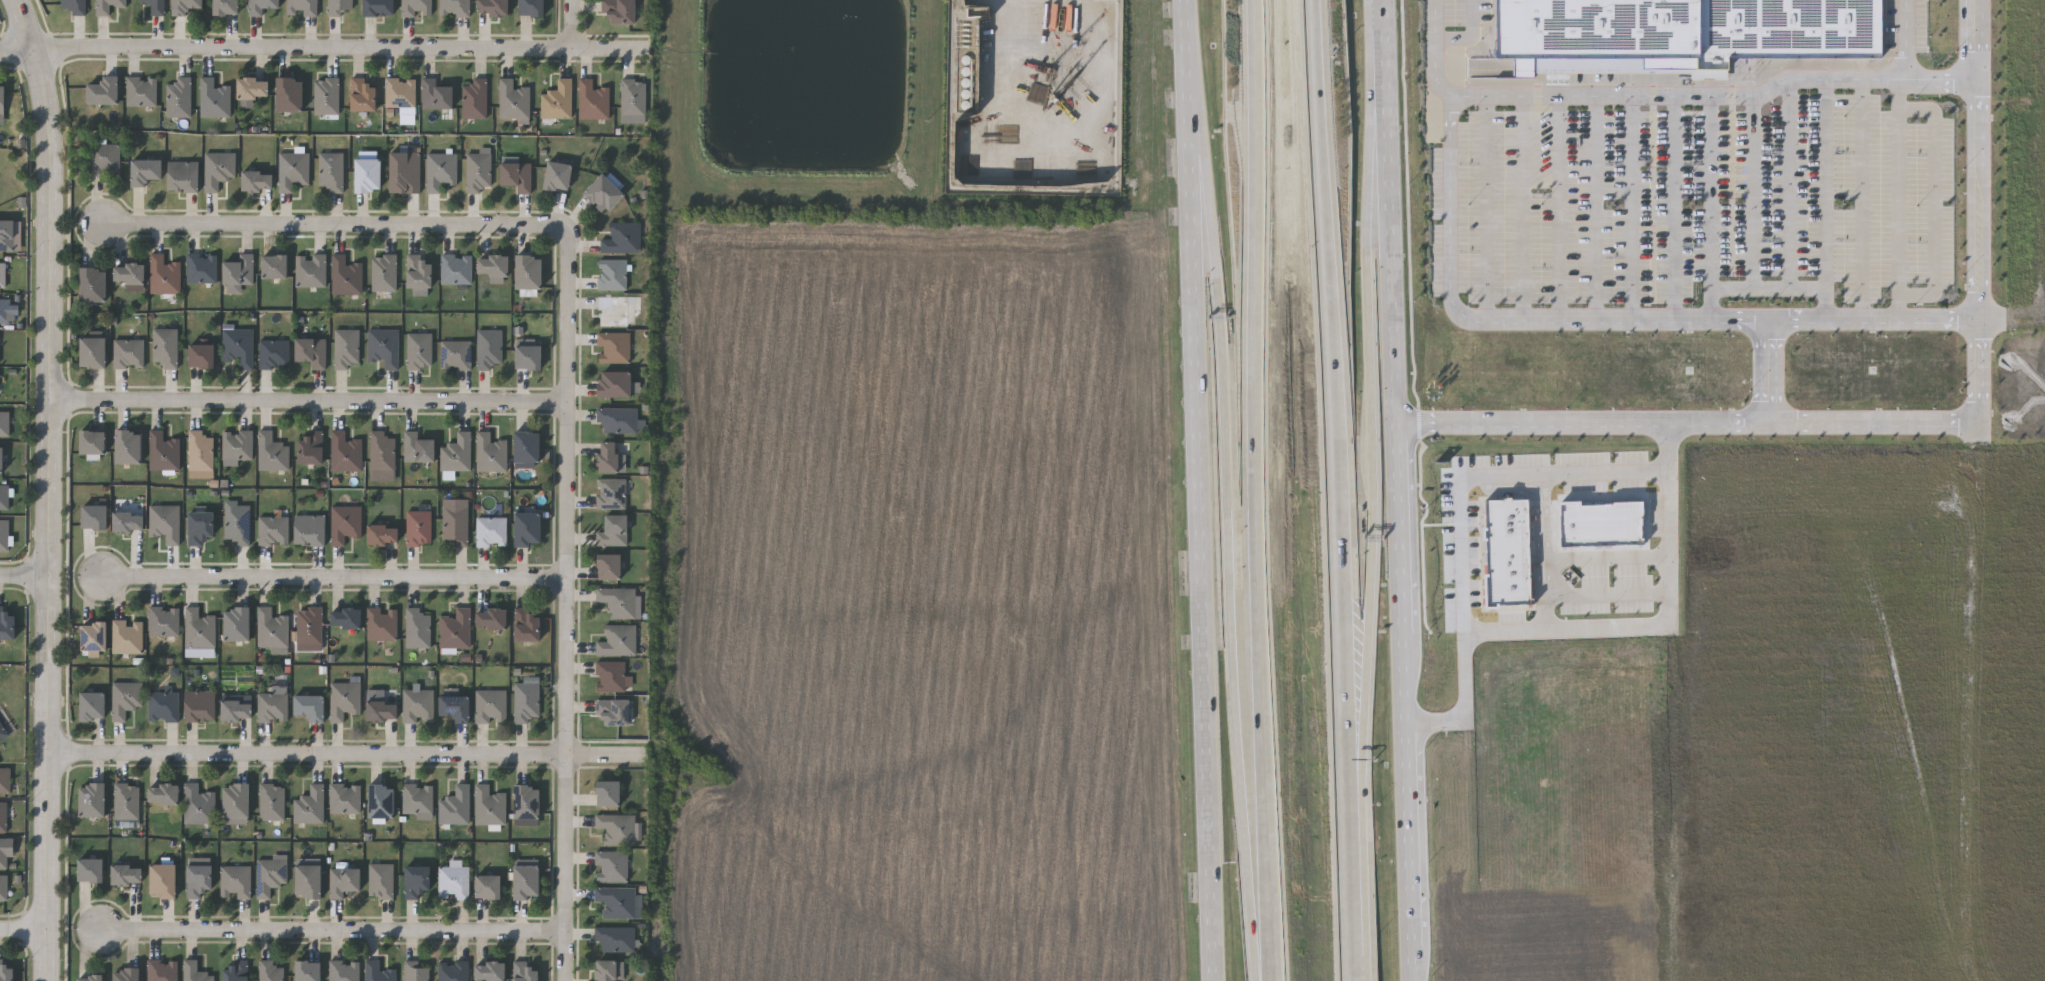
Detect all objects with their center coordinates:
building: (106, 5)
building: (73, 6)
building: (155, 6)
building: (188, 6)
building: (262, 6)
building: (227, 7)
building: (301, 7)
building: (339, 7)
building: (379, 7)
building: (416, 7)
building: (454, 7)
building: (494, 7)
building: (532, 7)
building: (619, 10)
road: (570, 23)
building: (1677, 31)
road: (1471, 34)
road: (318, 48)
road: (1911, 74)
building: (254, 88)
building: (104, 91)
building: (142, 91)
building: (400, 92)
building: (291, 94)
building: (363, 95)
building: (436, 95)
building: (326, 96)
building: (179, 97)
building: (633, 97)
road: (1685, 97)
building: (215, 99)
building: (474, 99)
building: (513, 100)
building: (557, 100)
building: (592, 100)
building: (2, 104)
building: (104, 160)
building: (218, 168)
building: (292, 169)
building: (330, 170)
building: (439, 170)
building: (145, 171)
building: (404, 172)
building: (478, 172)
building: (368, 175)
building: (183, 176)
building: (517, 176)
building: (559, 176)
building: (257, 180)
road: (1790, 183)
road: (1754, 192)
building: (605, 193)
road: (1826, 199)
road: (1863, 199)
road: (1898, 199)
road: (1934, 200)
road: (1679, 208)
road: (1710, 208)
road: (1487, 209)
road: (1522, 209)
road: (1560, 209)
road: (1596, 209)
road: (1631, 209)
road: (330, 225)
building: (8, 235)
building: (621, 238)
road: (1325, 257)
building: (275, 266)
building: (493, 266)
building: (202, 267)
building: (456, 268)
building: (239, 270)
building: (311, 270)
building: (419, 271)
building: (384, 272)
building: (530, 272)
building: (130, 273)
building: (611, 273)
building: (2, 274)
building: (164, 275)
building: (345, 275)
building: (94, 284)
road: (1768, 287)
building: (636, 304)
road: (1456, 308)
building: (9, 310)
building: (616, 310)
road: (1876, 319)
building: (202, 327)
building: (237, 345)
building: (164, 346)
building: (383, 346)
building: (613, 346)
building: (346, 348)
building: (488, 348)
building: (418, 350)
building: (93, 351)
building: (311, 351)
building: (128, 353)
building: (273, 353)
building: (201, 354)
building: (455, 354)
building: (529, 356)
road: (1769, 372)
building: (615, 382)
road: (307, 400)
building: (617, 419)
building: (4, 422)
road: (1901, 422)
building: (93, 440)
building: (237, 444)
building: (128, 445)
building: (311, 447)
building: (418, 447)
building: (527, 447)
building: (199, 450)
building: (163, 451)
building: (271, 451)
building: (381, 451)
building: (345, 452)
building: (456, 452)
building: (489, 452)
road: (1255, 452)
road: (1374, 452)
building: (608, 455)
building: (1, 458)
road: (1486, 477)
road: (51, 488)
road: (1201, 490)
road: (1398, 490)
building: (610, 491)
building: (4, 495)
road: (1538, 510)
building: (94, 515)
building: (128, 520)
building: (165, 521)
building: (344, 522)
building: (1603, 522)
building: (237, 523)
building: (455, 523)
building: (200, 526)
building: (418, 527)
building: (528, 527)
building: (309, 528)
building: (613, 529)
road: (1548, 529)
building: (273, 530)
building: (490, 530)
building: (383, 533)
building: (4, 534)
road: (1229, 540)
building: (1509, 552)
road: (1576, 559)
building: (609, 566)
road: (25, 577)
road: (330, 579)
road: (1607, 593)
road: (1341, 594)
building: (617, 600)
road: (562, 604)
building: (346, 616)
building: (492, 617)
building: (163, 620)
building: (7, 622)
building: (237, 623)
building: (381, 623)
building: (527, 623)
building: (309, 624)
building: (199, 627)
building: (271, 627)
building: (416, 627)
building: (454, 628)
road: (1595, 629)
building: (94, 635)
building: (127, 636)
building: (617, 640)
building: (610, 675)
building: (125, 697)
building: (343, 698)
building: (525, 699)
building: (200, 704)
building: (92, 705)
building: (163, 705)
building: (310, 705)
building: (418, 705)
building: (490, 705)
building: (272, 706)
building: (455, 706)
building: (236, 708)
building: (382, 709)
building: (613, 710)
road: (346, 751)
road: (1349, 758)
building: (4, 779)
building: (163, 792)
building: (609, 792)
building: (344, 797)
building: (92, 798)
building: (417, 798)
building: (236, 799)
building: (381, 799)
building: (125, 800)
building: (527, 800)
building: (271, 801)
building: (197, 804)
building: (309, 805)
building: (454, 805)
building: (489, 805)
building: (3, 816)
building: (617, 827)
building: (5, 850)
building: (611, 865)
building: (90, 869)
building: (127, 874)
building: (269, 874)
building: (163, 879)
building: (199, 879)
building: (308, 880)
building: (343, 880)
building: (380, 880)
building: (416, 880)
building: (235, 881)
building: (453, 881)
building: (527, 881)
building: (488, 885)
building: (3, 886)
building: (616, 901)
road: (1354, 912)
road: (327, 925)
road: (23, 930)
building: (615, 938)
road: (1271, 942)
building: (609, 969)
building: (161, 970)
building: (308, 970)
building: (343, 970)
building: (452, 970)
building: (490, 970)
building: (525, 970)
building: (6, 971)
building: (194, 971)
building: (236, 971)
building: (268, 971)
building: (377, 971)
building: (415, 971)
building: (126, 974)
building: (90, 977)

